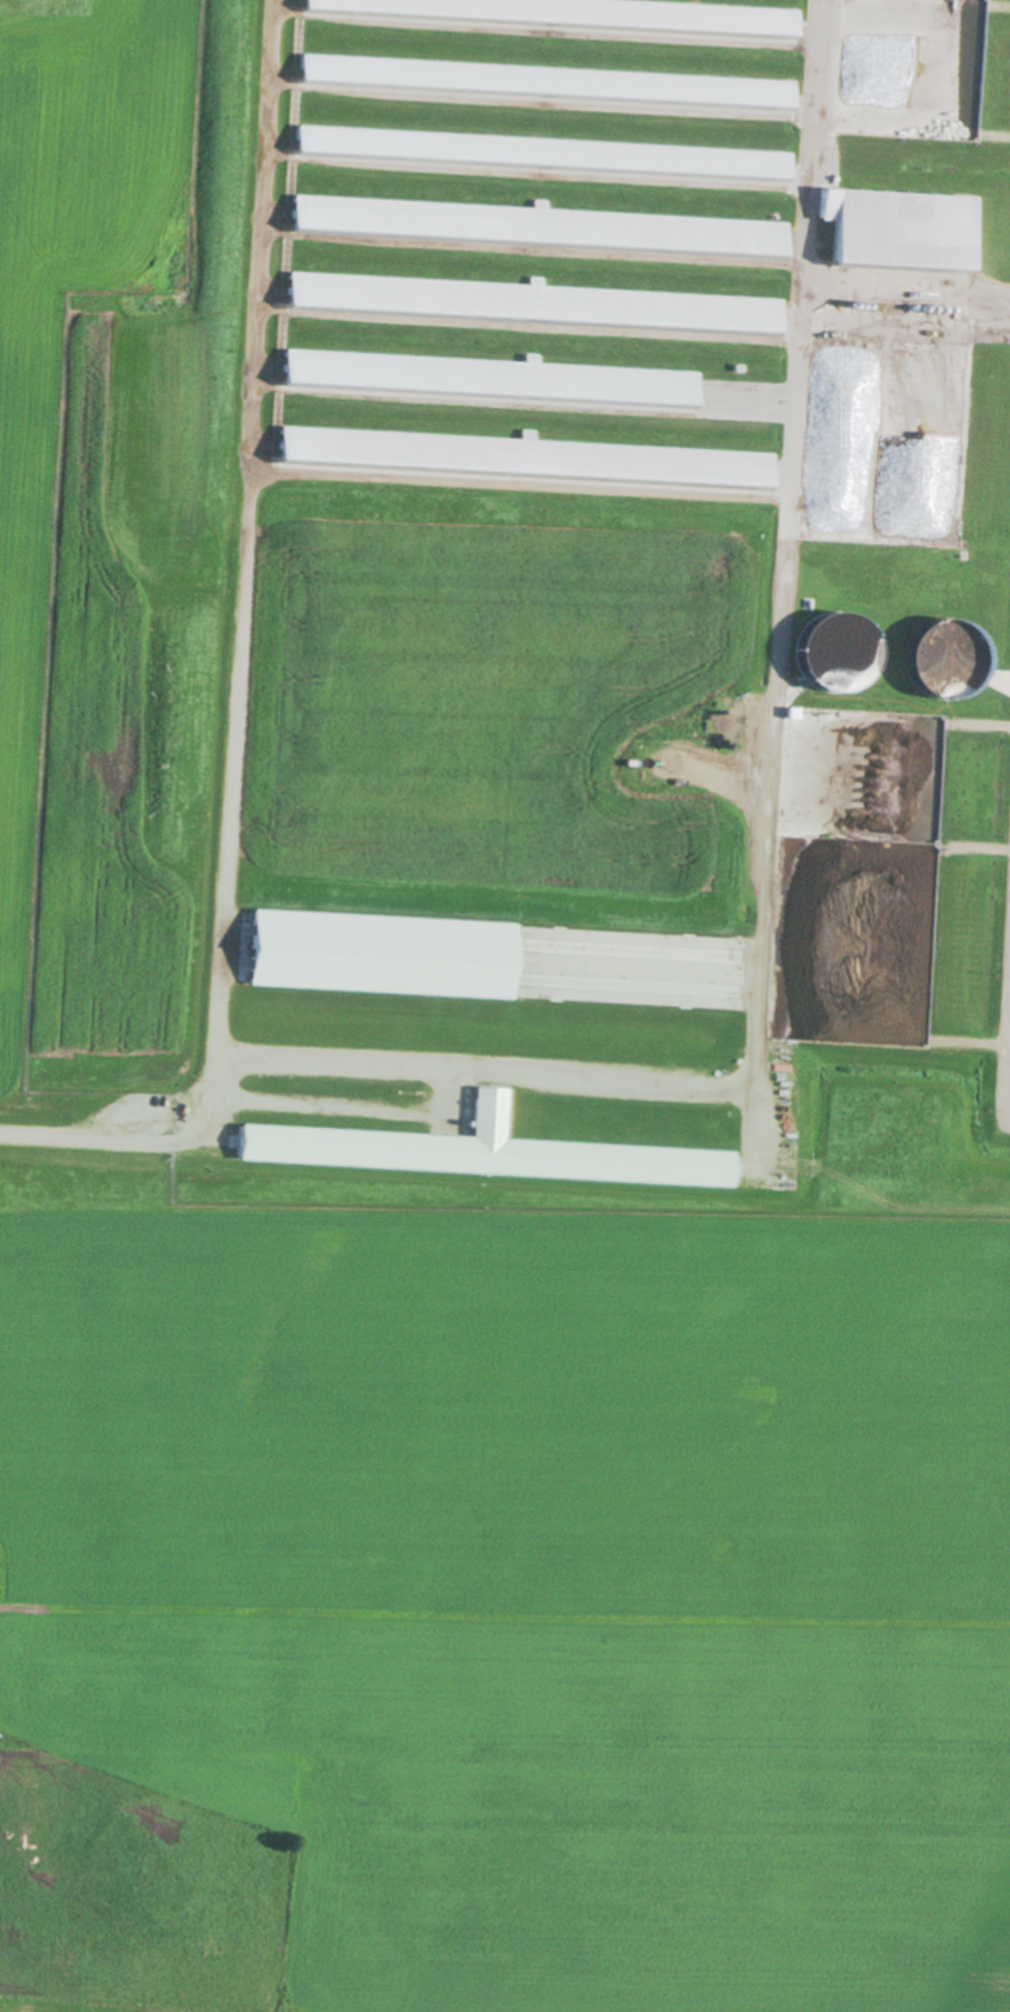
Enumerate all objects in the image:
building: (576, 14)
building: (738, 90)
building: (725, 161)
building: (530, 226)
building: (899, 230)
road: (904, 288)
building: (527, 304)
building: (486, 376)
road: (791, 397)
building: (521, 458)
road: (282, 474)
building: (835, 650)
road: (234, 766)
building: (380, 950)
road: (498, 1069)
building: (479, 1152)

